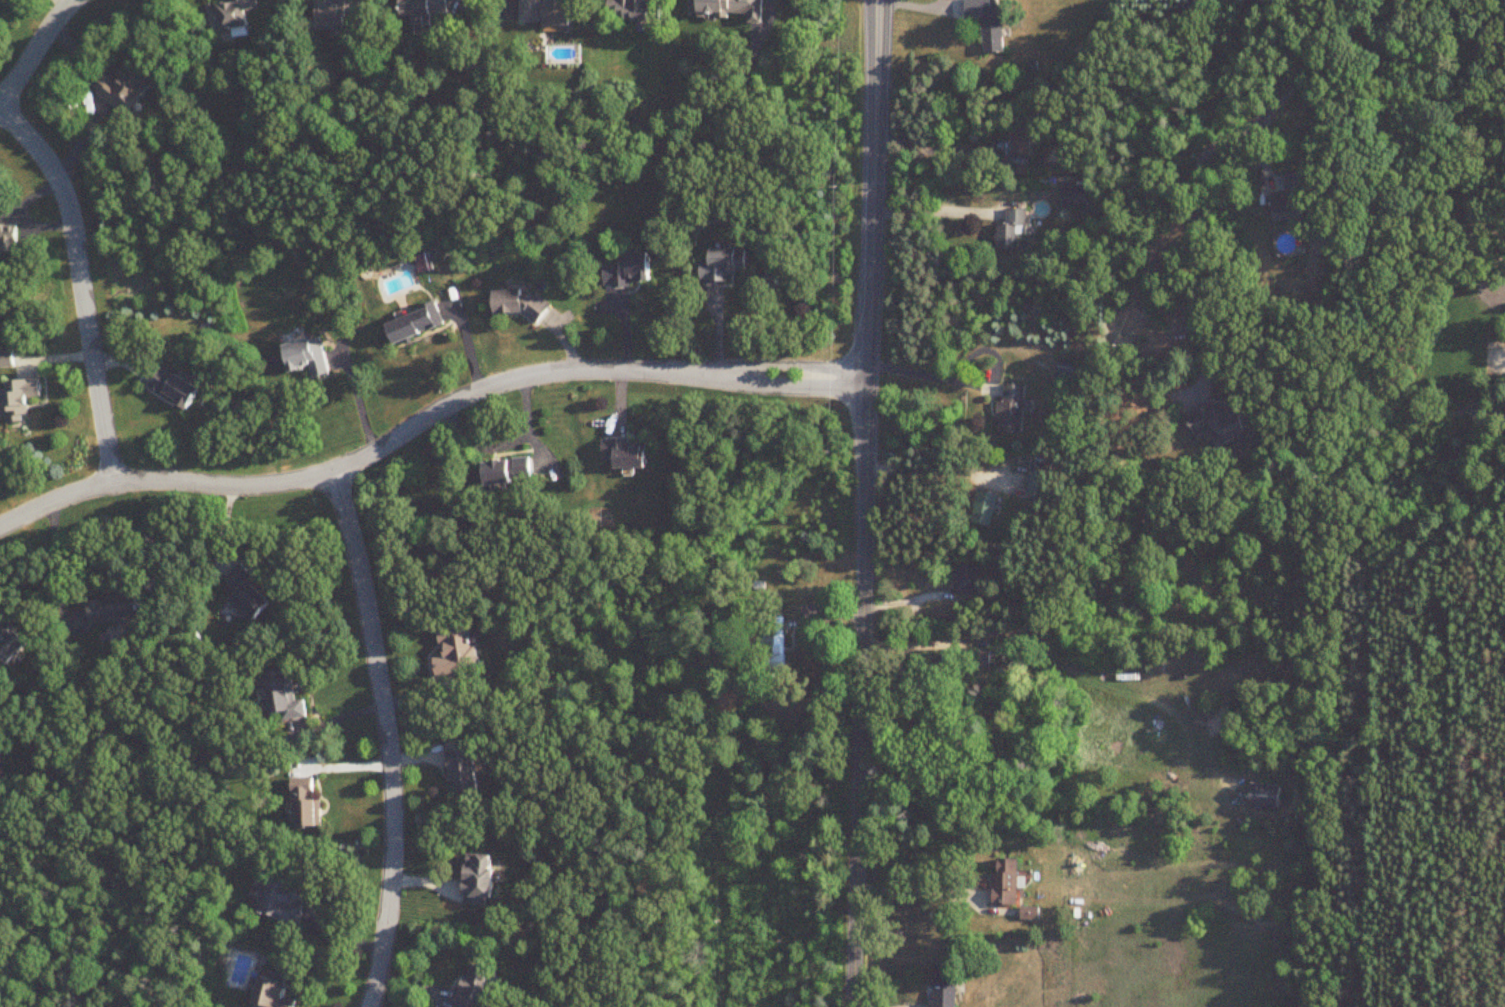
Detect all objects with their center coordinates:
building: (426, 8)
building: (732, 9)
building: (637, 10)
building: (549, 12)
building: (340, 14)
building: (233, 15)
building: (990, 23)
road: (36, 51)
building: (127, 89)
building: (1027, 139)
road: (927, 149)
road: (1197, 168)
building: (1076, 198)
building: (1295, 201)
road: (927, 212)
building: (540, 216)
building: (1013, 230)
building: (9, 240)
building: (725, 265)
building: (630, 271)
road: (83, 284)
building: (521, 305)
building: (416, 325)
building: (308, 358)
building: (7, 361)
building: (1064, 374)
road: (928, 376)
building: (177, 388)
road: (355, 398)
building: (20, 401)
building: (1013, 410)
road: (426, 420)
building: (1224, 424)
building: (628, 455)
building: (510, 472)
road: (864, 503)
building: (986, 509)
road: (54, 564)
building: (968, 580)
building: (249, 596)
building: (115, 610)
building: (777, 645)
road: (916, 645)
building: (11, 647)
building: (460, 653)
building: (285, 700)
road: (388, 737)
building: (467, 771)
building: (1262, 796)
building: (308, 809)
building: (482, 881)
building: (1007, 884)
road: (918, 893)
building: (280, 901)
building: (1031, 914)
building: (475, 987)
building: (947, 989)
building: (275, 995)

